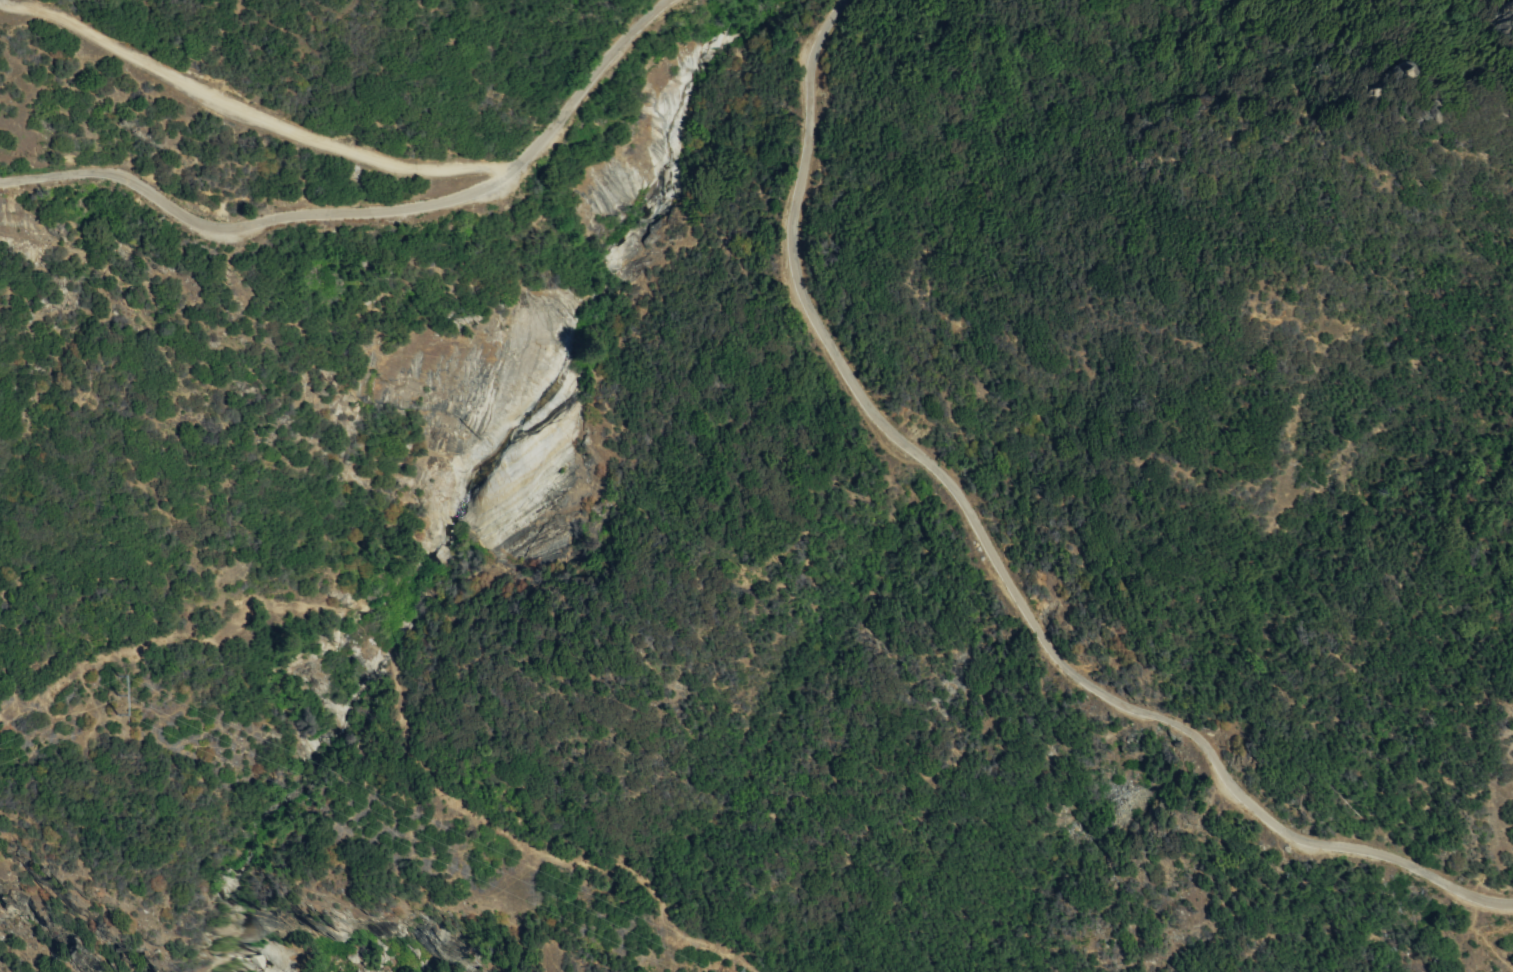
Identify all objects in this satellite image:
road: (249, 116)
road: (364, 212)
road: (1009, 555)
power tower: (114, 694)

